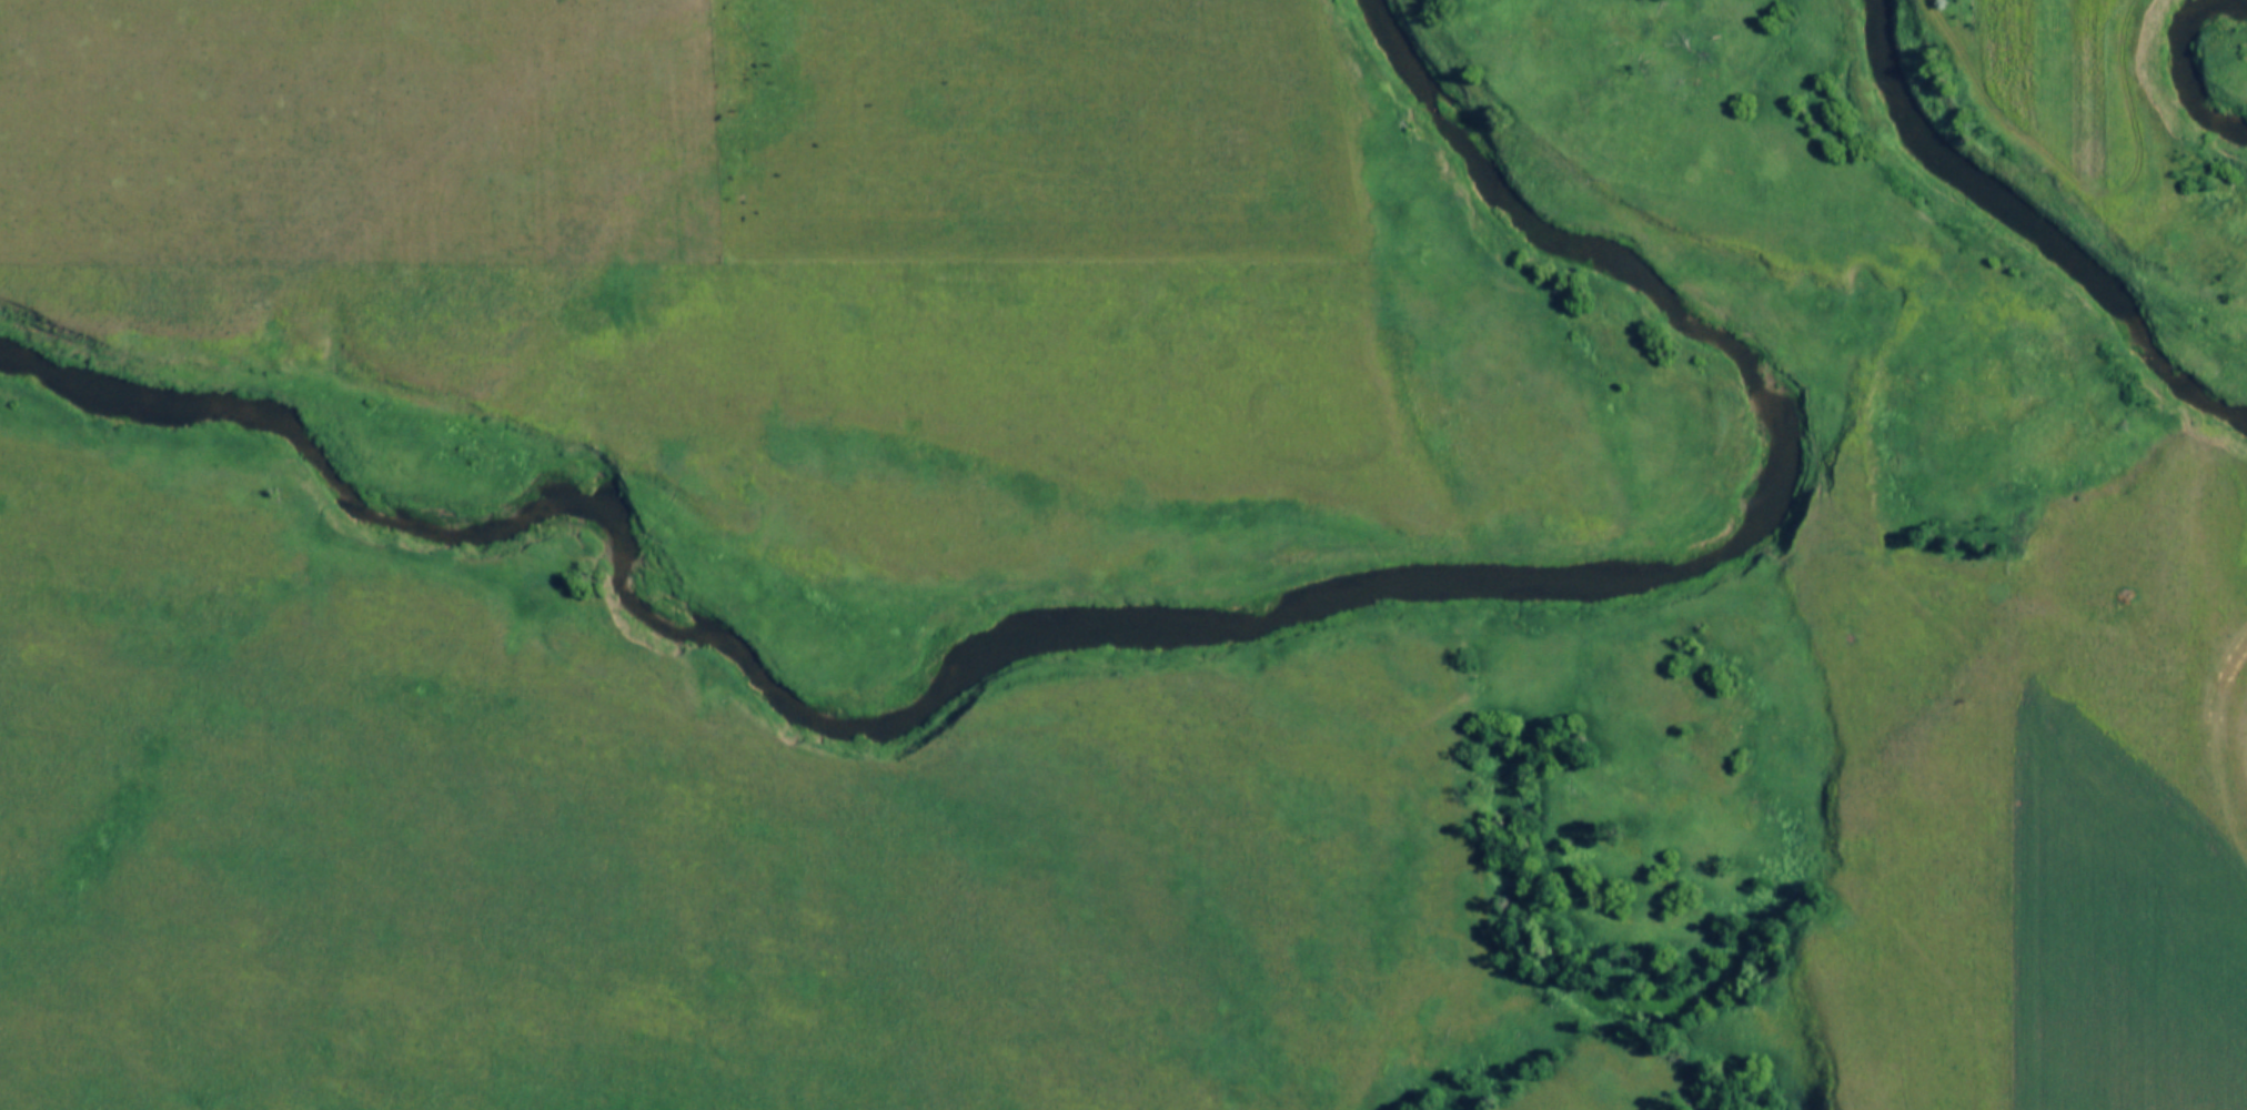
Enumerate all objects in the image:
road: (2214, 740)

